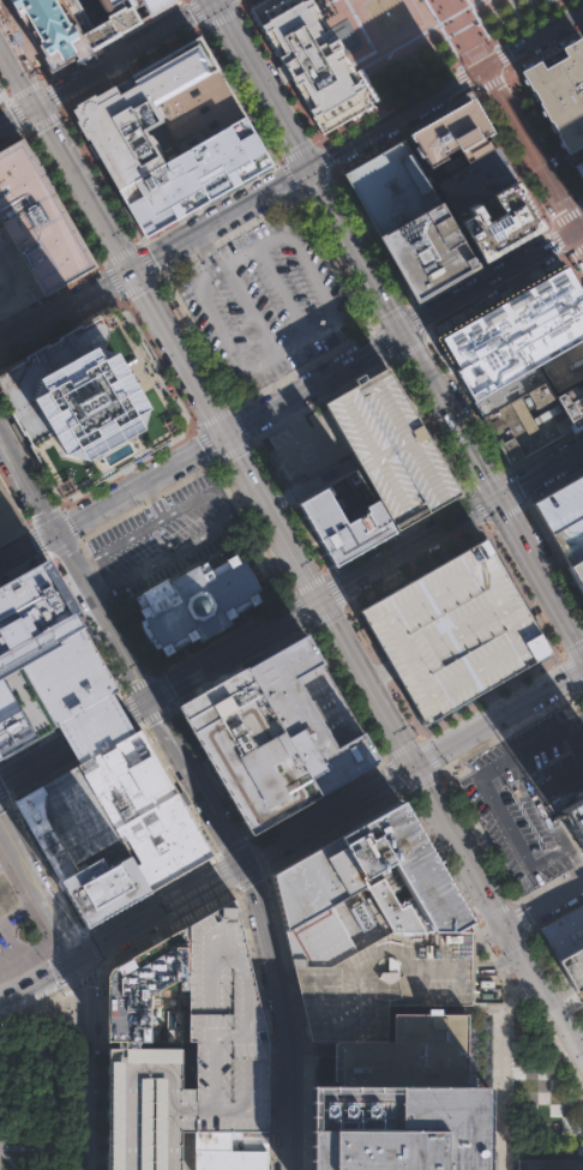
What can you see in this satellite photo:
road: (215, 0)
road: (216, 0)
building: (547, 0)
traffic signals: (216, 1)
road: (323, 1)
road: (321, 2)
road: (236, 4)
road: (240, 4)
building: (125, 11)
road: (197, 13)
fountain: (384, 14)
road: (222, 19)
road: (479, 20)
building: (59, 28)
road: (410, 30)
road: (441, 30)
road: (469, 30)
road: (420, 34)
road: (365, 35)
road: (535, 35)
park: (421, 38)
road: (110, 40)
road: (126, 52)
road: (500, 55)
building: (309, 59)
traffic signals: (487, 62)
road: (128, 65)
road: (18, 70)
road: (113, 70)
road: (439, 71)
road: (280, 72)
road: (462, 77)
road: (263, 83)
road: (488, 84)
road: (25, 89)
building: (186, 90)
building: (561, 90)
road: (522, 92)
road: (240, 95)
road: (50, 96)
traffic signals: (37, 103)
road: (17, 113)
road: (18, 113)
road: (398, 113)
road: (43, 120)
road: (401, 132)
building: (447, 133)
road: (535, 146)
road: (295, 148)
building: (162, 152)
parking lot: (162, 152)
road: (323, 156)
road: (509, 160)
traffic signals: (311, 166)
building: (581, 167)
road: (289, 175)
building: (474, 179)
road: (315, 182)
road: (84, 185)
building: (390, 187)
road: (208, 200)
road: (565, 214)
road: (220, 216)
building: (503, 218)
building: (36, 222)
road: (582, 229)
traffic signals: (582, 230)
road: (227, 234)
road: (371, 240)
road: (559, 241)
road: (357, 247)
road: (206, 250)
road: (251, 250)
building: (426, 251)
road: (575, 251)
road: (119, 252)
road: (145, 259)
road: (337, 259)
road: (480, 266)
traffic signals: (131, 268)
road: (573, 269)
road: (112, 277)
building: (12, 280)
parking garage: (12, 280)
road: (493, 280)
road: (138, 286)
road: (282, 290)
road: (492, 298)
parking lot: (265, 300)
road: (65, 305)
road: (251, 308)
road: (212, 316)
road: (390, 316)
building: (506, 316)
road: (336, 319)
road: (417, 323)
traffic signals: (405, 330)
road: (197, 336)
road: (383, 342)
building: (522, 347)
road: (409, 348)
road: (176, 350)
building: (564, 365)
road: (302, 367)
road: (314, 382)
building: (510, 388)
road: (318, 397)
building: (92, 400)
building: (573, 403)
road: (465, 406)
building: (522, 409)
road: (214, 418)
road: (287, 420)
road: (240, 425)
building: (535, 433)
traffic signals: (223, 434)
road: (206, 444)
building: (386, 448)
parking garage: (386, 448)
road: (546, 448)
road: (232, 450)
parking lot: (305, 452)
road: (315, 461)
road: (483, 479)
road: (26, 481)
road: (138, 481)
road: (510, 485)
road: (551, 485)
road: (493, 487)
traffic signals: (499, 496)
road: (152, 497)
road: (476, 506)
road: (287, 508)
road: (168, 510)
road: (54, 512)
road: (503, 512)
building: (8, 514)
parking garage: (8, 514)
building: (563, 518)
parking garage: (563, 518)
road: (35, 521)
road: (68, 523)
building: (336, 527)
road: (12, 529)
road: (248, 529)
traffic signals: (55, 530)
parking lot: (166, 534)
road: (405, 535)
road: (37, 540)
road: (26, 545)
road: (61, 547)
road: (552, 557)
road: (85, 560)
road: (156, 560)
road: (415, 564)
building: (575, 575)
road: (354, 577)
road: (308, 584)
road: (524, 589)
road: (335, 590)
traffic signals: (319, 599)
building: (196, 601)
road: (300, 610)
road: (102, 612)
road: (326, 616)
road: (222, 632)
building: (450, 632)
parking garage: (450, 632)
building: (28, 649)
road: (572, 649)
road: (240, 665)
road: (380, 671)
road: (571, 671)
road: (375, 674)
road: (366, 678)
road: (138, 680)
road: (582, 686)
road: (162, 688)
road: (582, 689)
road: (347, 691)
traffic signals: (149, 696)
road: (491, 696)
road: (130, 706)
road: (156, 712)
road: (94, 727)
road: (507, 727)
road: (61, 728)
building: (276, 732)
road: (401, 746)
road: (518, 750)
road: (428, 752)
building: (114, 760)
road: (73, 761)
road: (30, 763)
traffic signals: (415, 763)
road: (210, 770)
road: (393, 773)
road: (558, 779)
road: (420, 780)
road: (178, 787)
parking lot: (527, 792)
road: (2, 797)
road: (315, 797)
road: (2, 803)
road: (329, 812)
building: (572, 824)
road: (335, 830)
road: (477, 834)
road: (232, 845)
building: (80, 847)
road: (257, 853)
road: (547, 857)
traffic signals: (240, 864)
road: (42, 865)
road: (569, 866)
road: (224, 870)
building: (403, 871)
road: (250, 878)
road: (548, 881)
road: (252, 887)
road: (36, 889)
building: (6, 894)
road: (458, 894)
road: (25, 900)
building: (326, 901)
road: (545, 901)
road: (493, 911)
traffic signals: (507, 924)
road: (168, 926)
road: (488, 932)
building: (564, 932)
road: (65, 938)
road: (510, 941)
road: (91, 948)
road: (541, 948)
traffic signals: (74, 959)
road: (59, 967)
building: (573, 967)
road: (37, 977)
road: (84, 977)
building: (381, 980)
parking garage: (381, 980)
building: (145, 982)
road: (84, 986)
road: (545, 988)
road: (561, 994)
road: (578, 1006)
park: (578, 1007)
road: (43, 1016)
building: (223, 1028)
parking lot: (223, 1028)
road: (554, 1039)
building: (126, 1042)
road: (277, 1058)
road: (504, 1064)
road: (581, 1078)
park: (540, 1087)
road: (88, 1093)
building: (403, 1102)
park: (41, 1105)
building: (143, 1108)
parking garage: (143, 1108)
road: (289, 1135)
building: (256, 1141)
road: (17, 1147)
road: (186, 1150)
building: (224, 1153)
road: (11, 1160)
building: (547, 1164)

